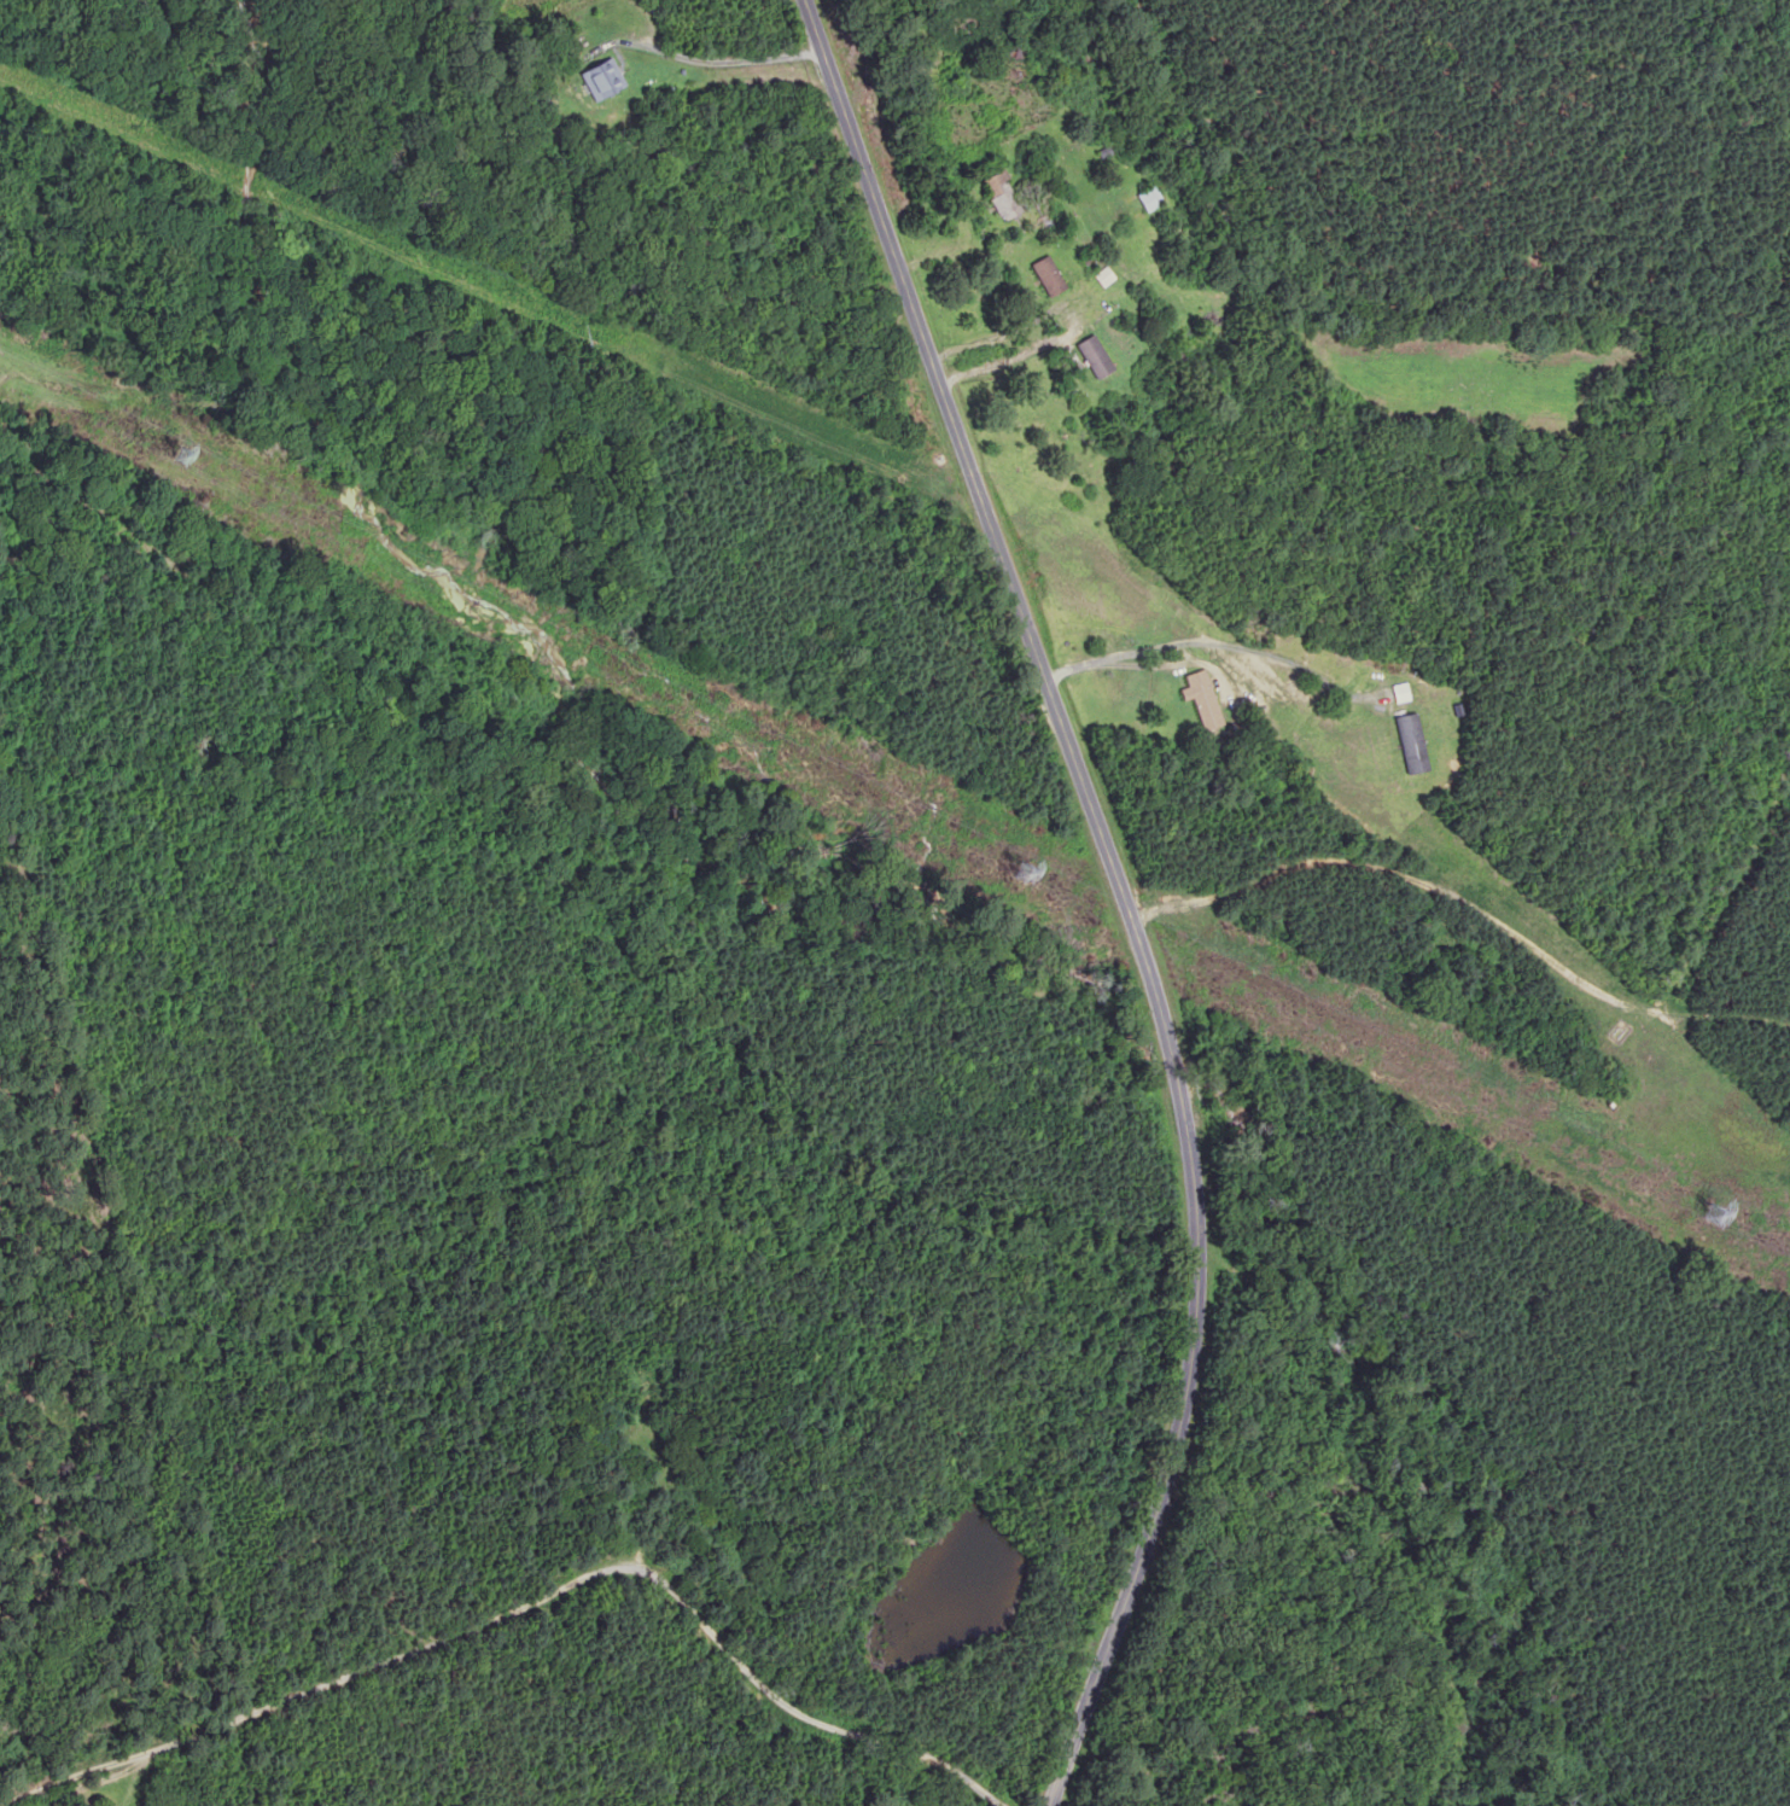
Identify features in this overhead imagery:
building: (602, 78)
building: (1003, 197)
building: (1151, 199)
building: (1049, 278)
building: (1106, 278)
building: (1095, 356)
power tower: (180, 455)
road: (1211, 642)
building: (1403, 694)
building: (1203, 700)
building: (1413, 744)
power tower: (1024, 873)
road: (1121, 893)
power tower: (1718, 1216)
road: (550, 1606)

